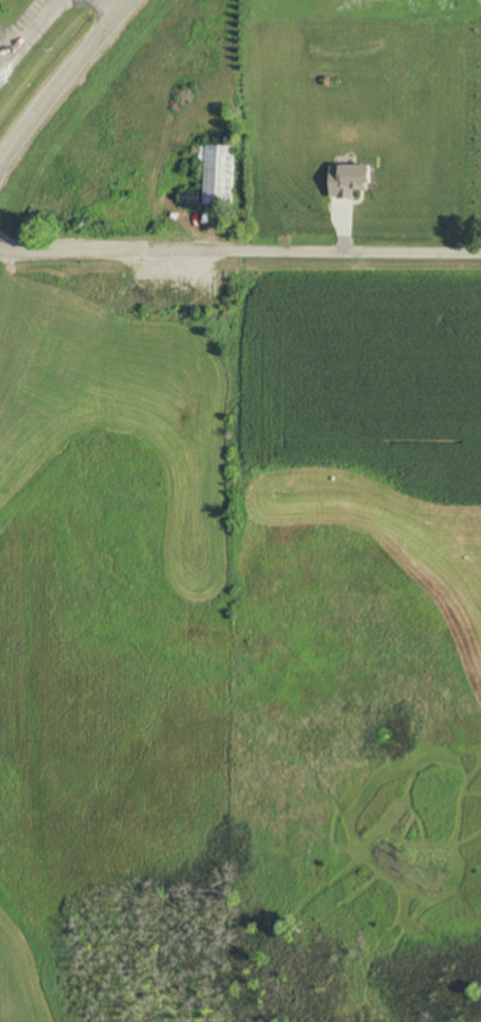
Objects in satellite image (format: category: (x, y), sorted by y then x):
road: (107, 9)
airport: (31, 40)
road: (35, 41)
road: (63, 82)
building: (218, 174)
building: (348, 180)
road: (240, 251)

